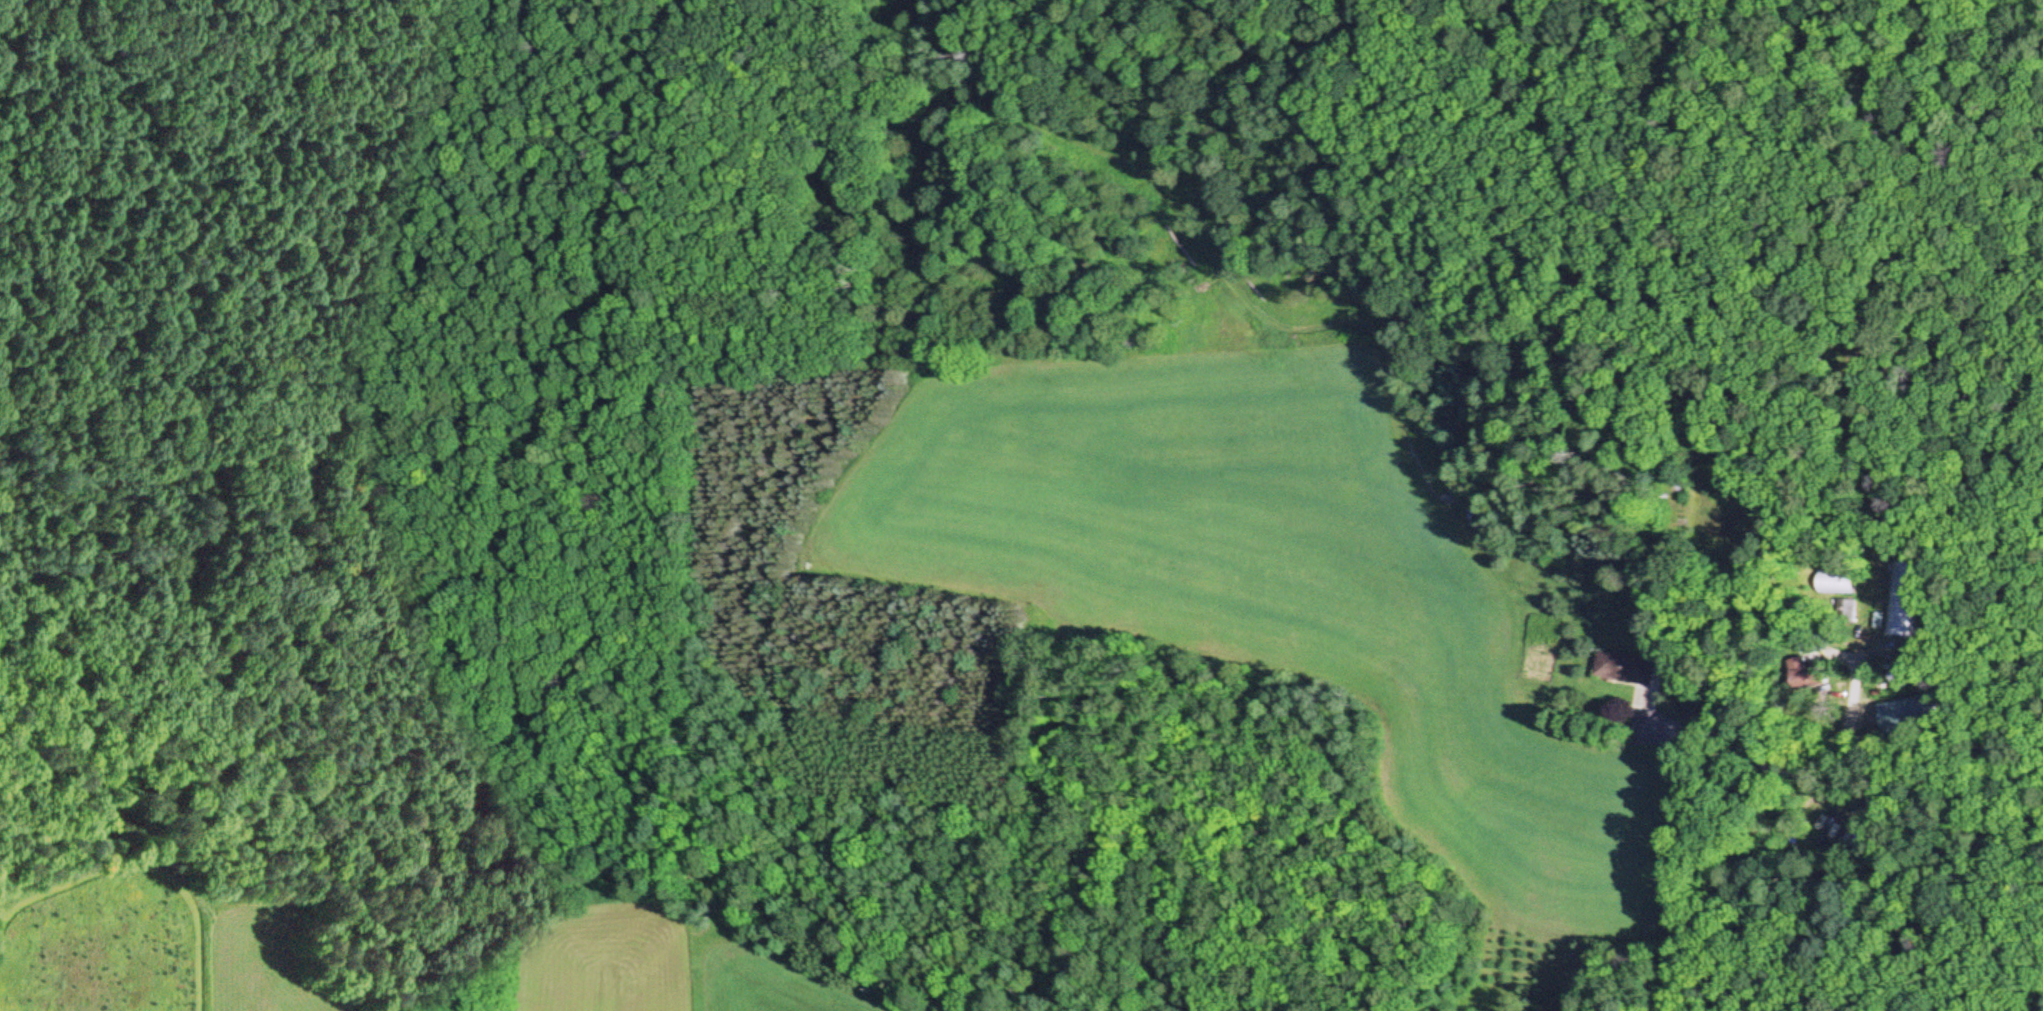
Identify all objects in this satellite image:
park: (1869, 166)
building: (1836, 585)
building: (1904, 600)
building: (1846, 614)
building: (1623, 670)
building: (1803, 675)
building: (1898, 678)
road: (1833, 876)

